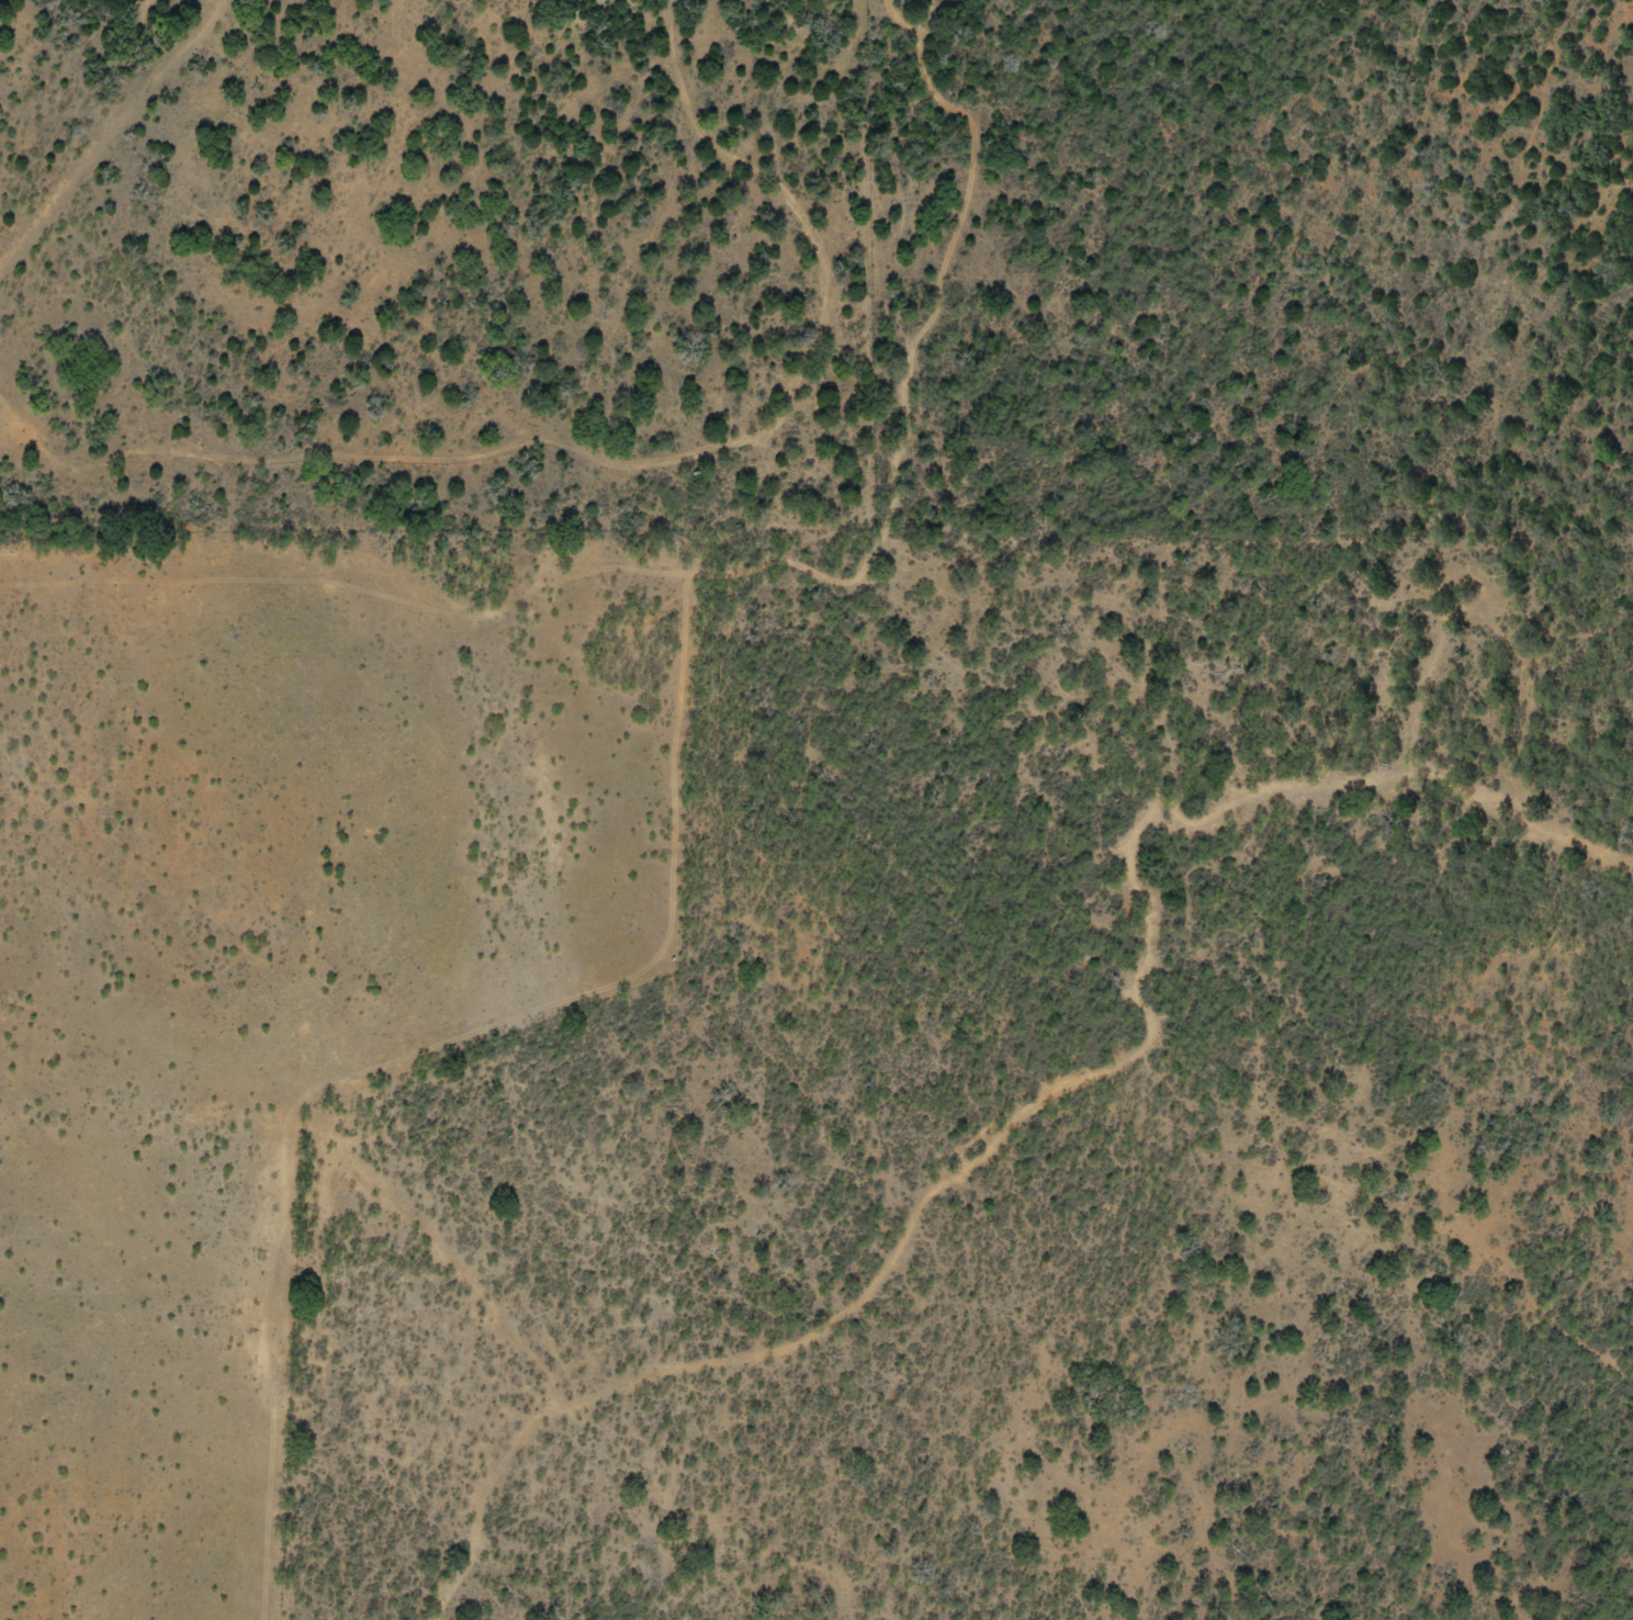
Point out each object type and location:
road: (887, 1308)

